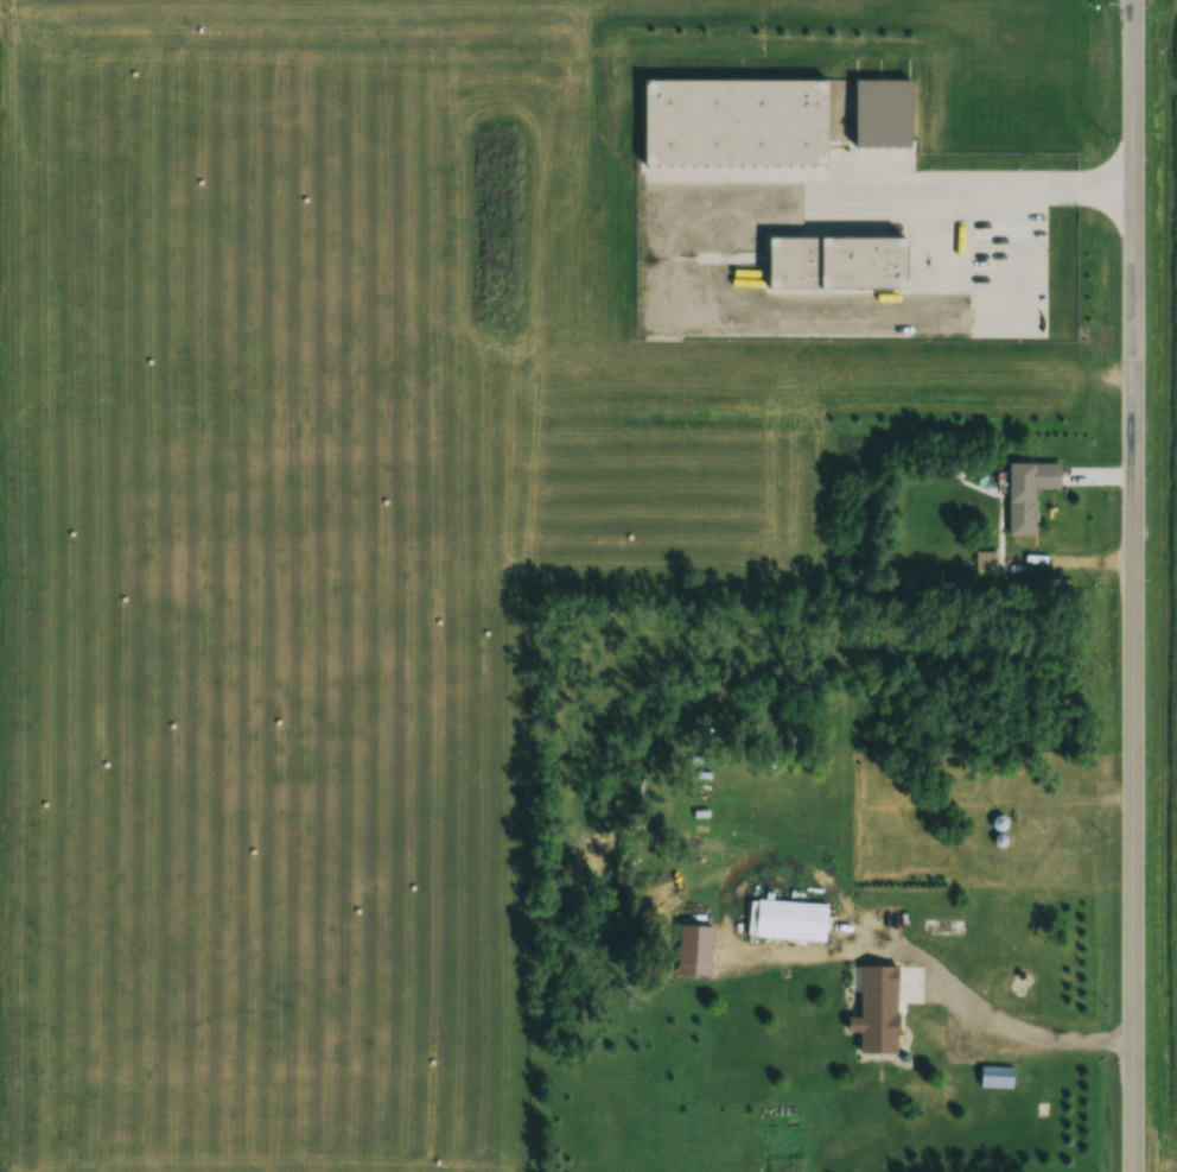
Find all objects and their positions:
building: (859, 114)
building: (724, 129)
building: (825, 268)
building: (1017, 499)
building: (984, 562)
road: (1131, 585)
building: (998, 822)
building: (785, 919)
building: (692, 949)
building: (874, 1009)
building: (994, 1076)

